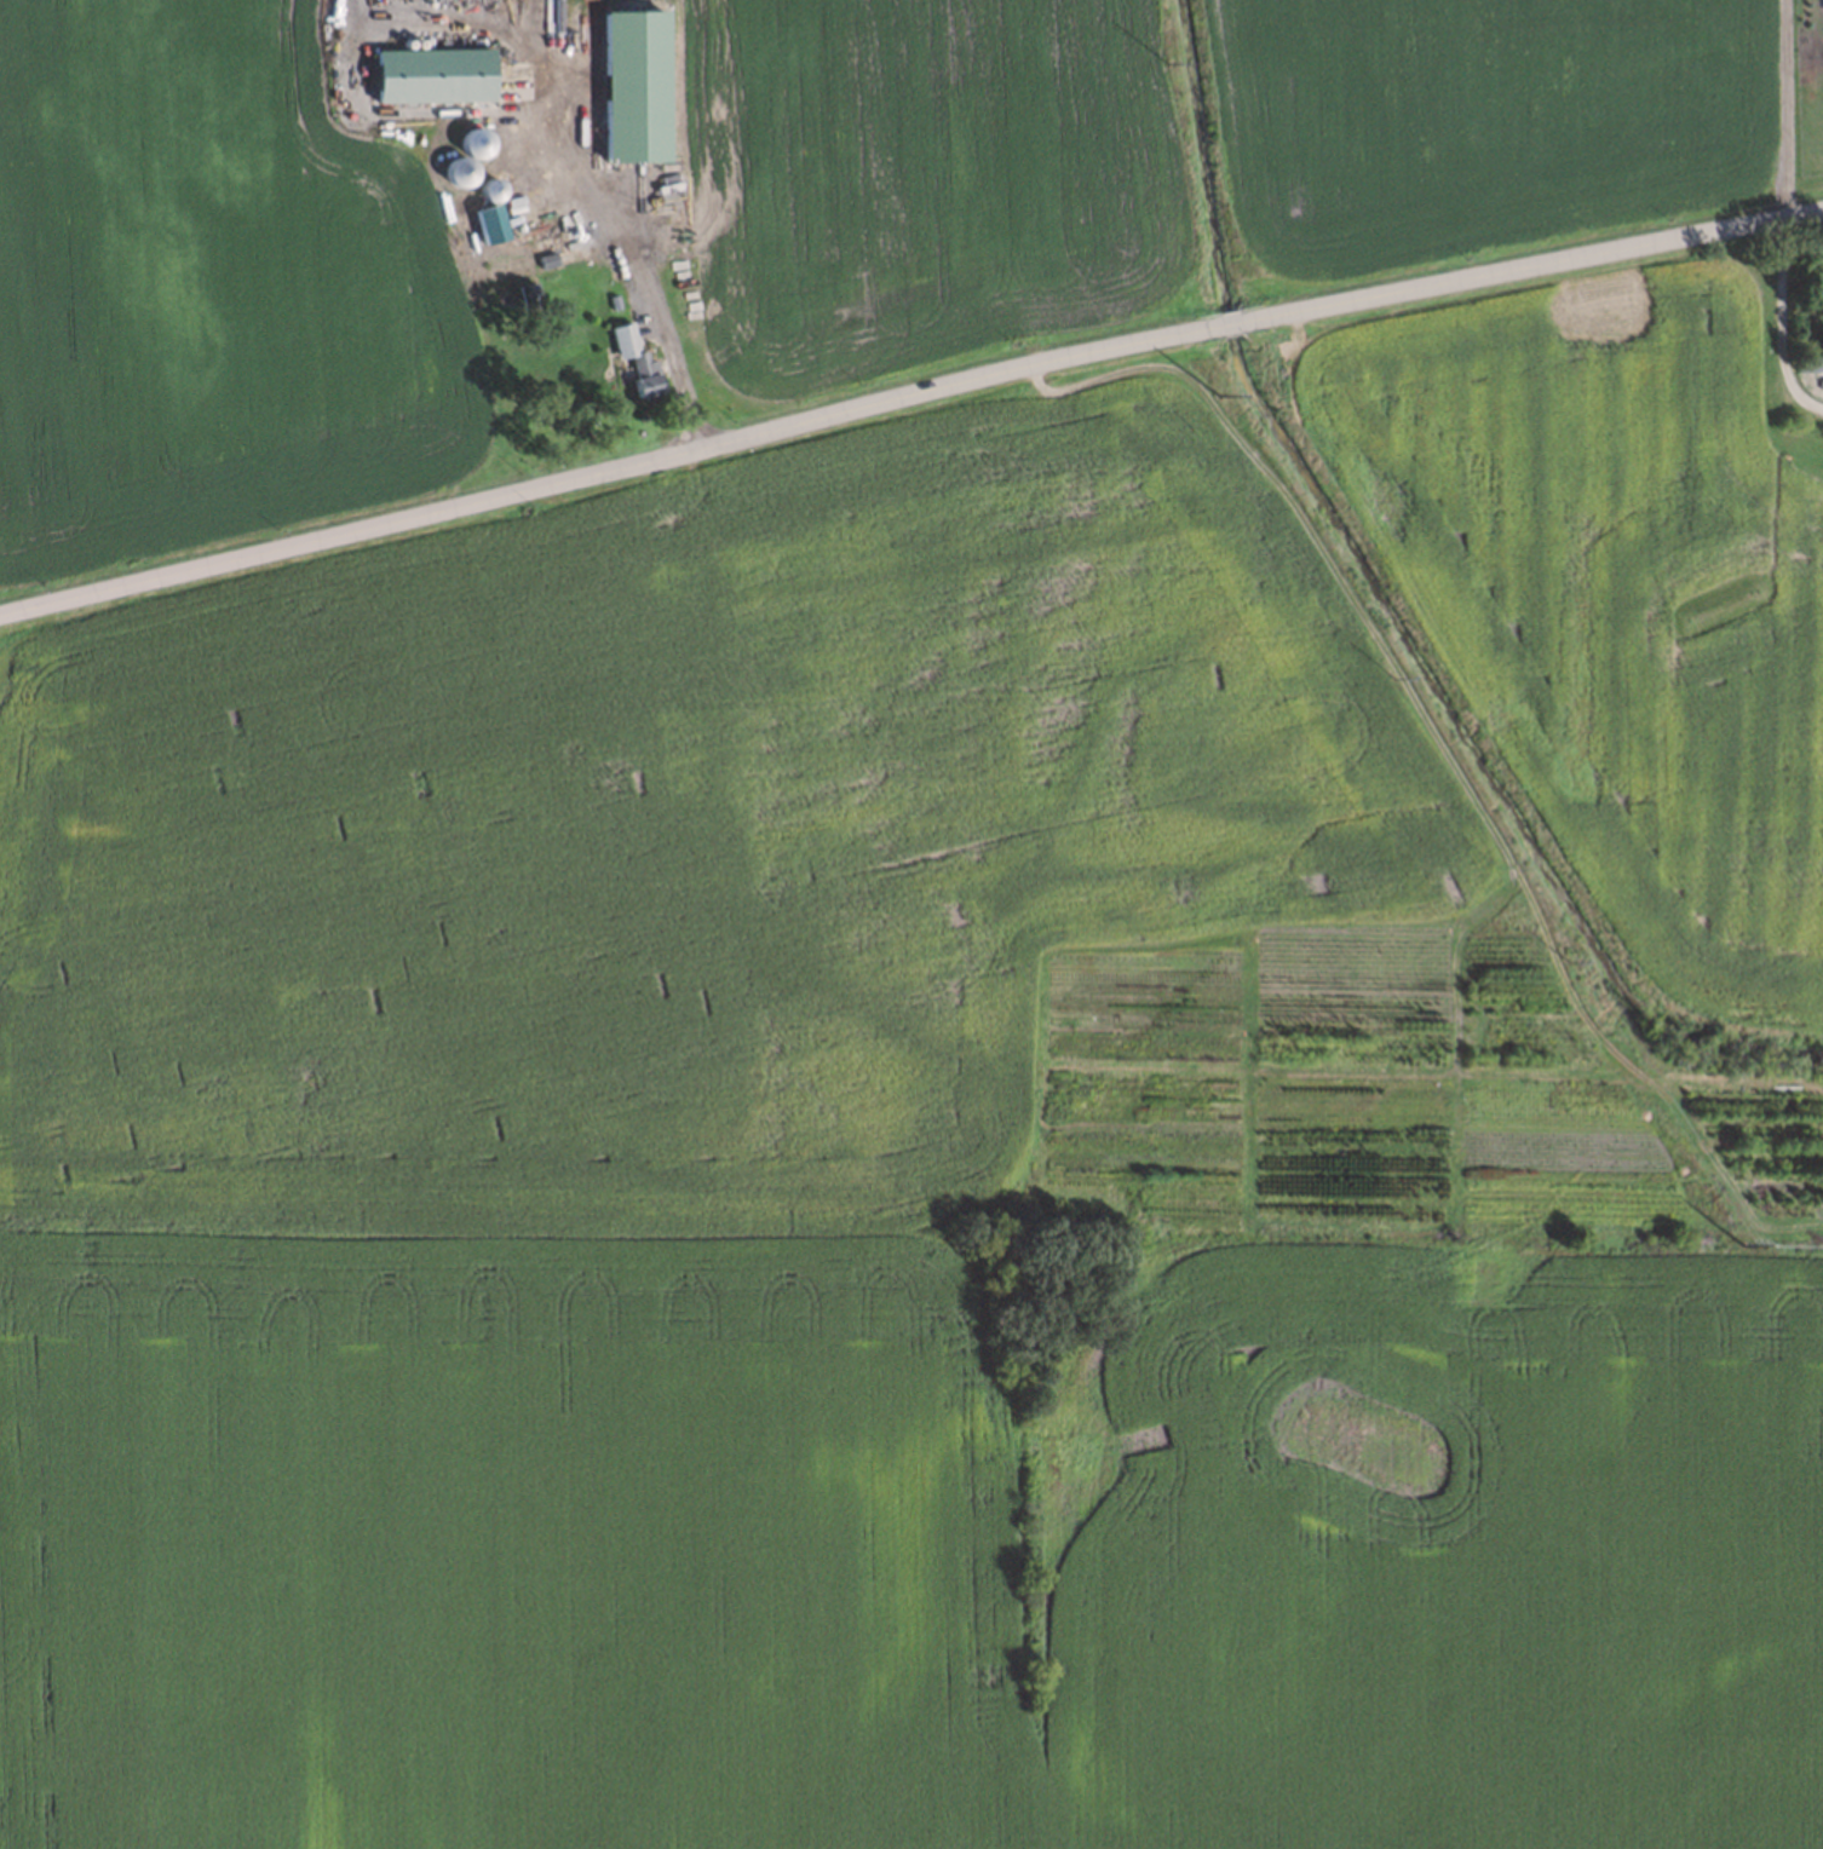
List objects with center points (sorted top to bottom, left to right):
building: (436, 77)
building: (638, 90)
road: (1788, 108)
building: (470, 144)
storage tank: (477, 144)
storage tank: (461, 173)
building: (454, 174)
storage tank: (493, 191)
building: (533, 215)
building: (493, 226)
building: (550, 263)
road: (1543, 263)
road: (644, 278)
building: (525, 294)
building: (611, 301)
road: (1778, 323)
road: (1226, 324)
building: (633, 358)
building: (1808, 363)
building: (1819, 382)
power tower: (1212, 392)
road: (592, 474)
power tower: (1739, 1245)

